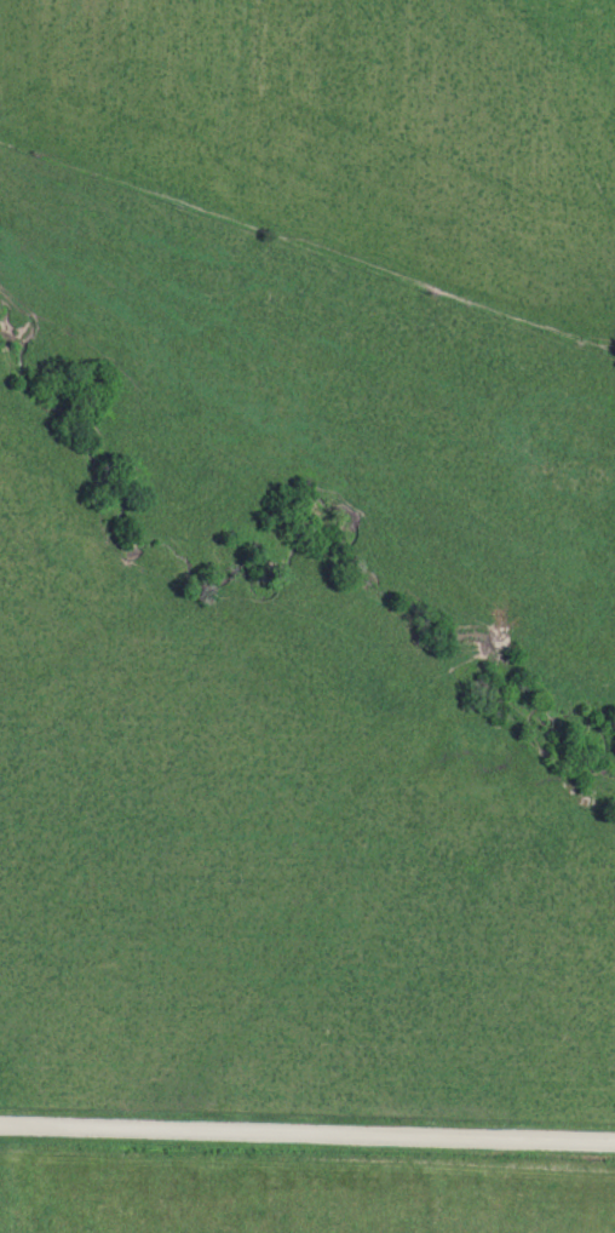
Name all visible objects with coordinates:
road: (306, 1135)

